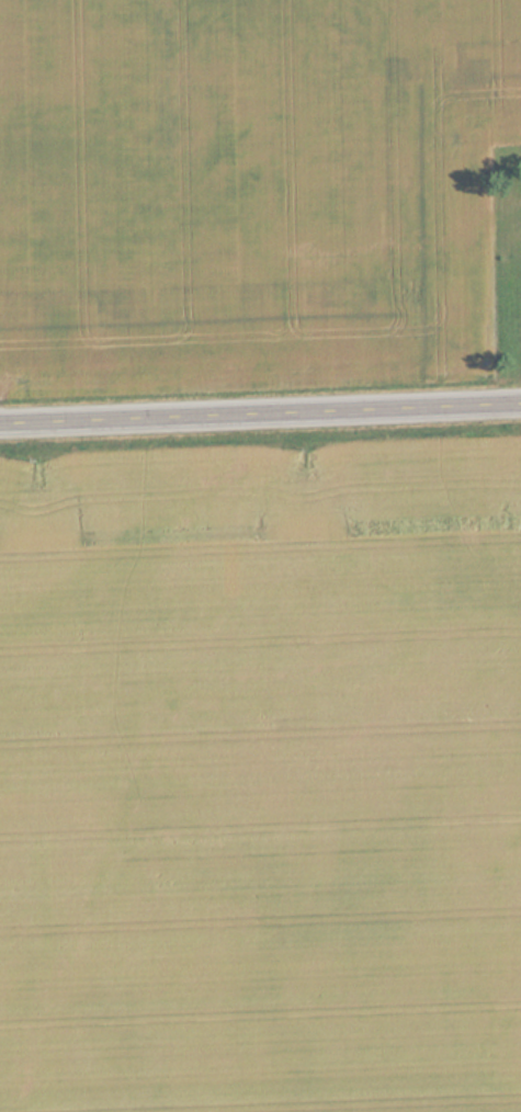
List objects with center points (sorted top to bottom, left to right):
road: (260, 411)

